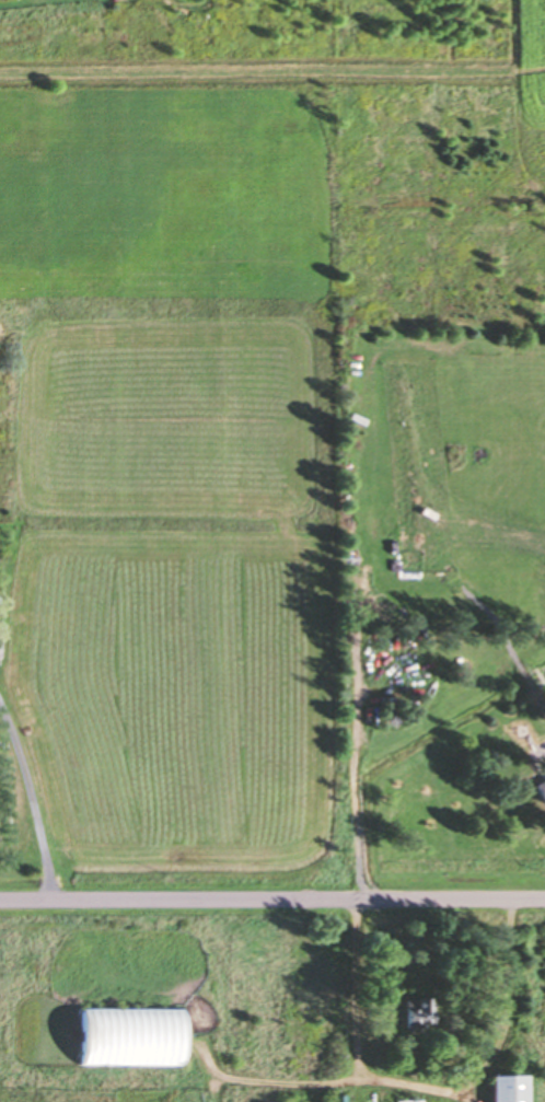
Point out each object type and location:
building: (540, 788)
road: (272, 898)
building: (415, 1010)
building: (126, 1035)
building: (505, 1087)

